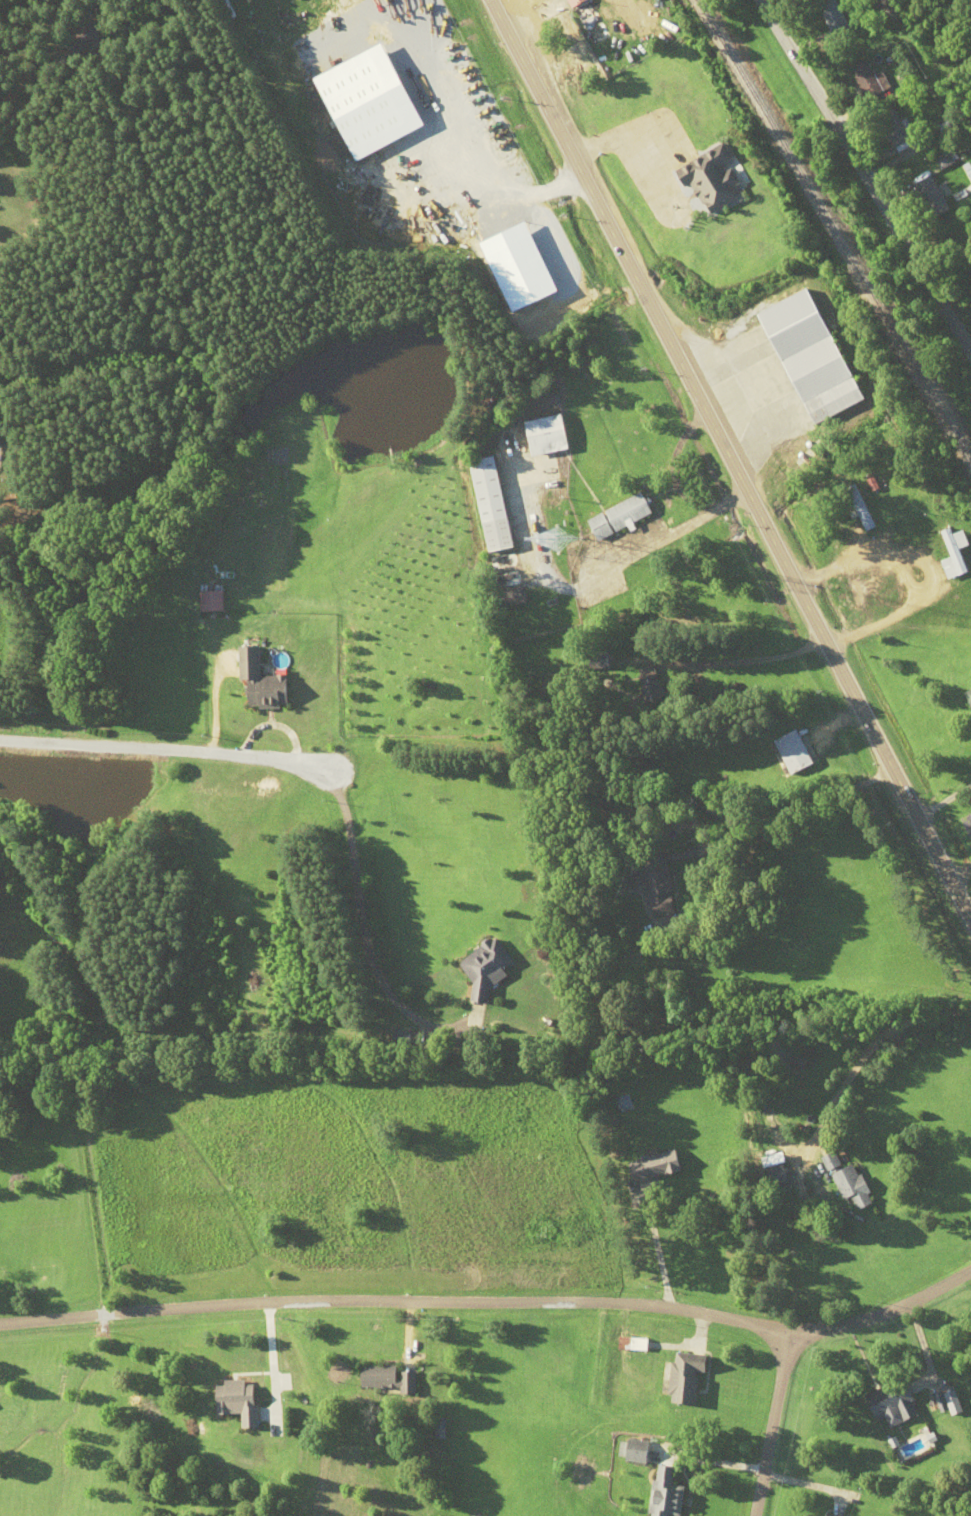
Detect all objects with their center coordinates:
building: (581, 14)
building: (831, 16)
building: (86, 36)
building: (867, 81)
building: (893, 127)
road: (855, 171)
building: (711, 179)
building: (930, 198)
railway: (833, 231)
building: (810, 357)
building: (548, 435)
road: (727, 465)
building: (494, 503)
building: (858, 509)
building: (620, 517)
building: (954, 553)
building: (505, 561)
building: (508, 579)
road: (586, 579)
building: (512, 598)
building: (209, 601)
building: (647, 678)
building: (262, 681)
building: (969, 695)
road: (166, 745)
building: (656, 886)
building: (486, 967)
building: (403, 1038)
building: (623, 1102)
building: (657, 1166)
building: (780, 1175)
building: (851, 1182)
road: (878, 1292)
road: (392, 1308)
building: (687, 1378)
building: (389, 1379)
building: (237, 1402)
building: (948, 1402)
building: (894, 1404)
road: (770, 1423)
building: (635, 1451)
building: (664, 1493)
building: (827, 1515)

